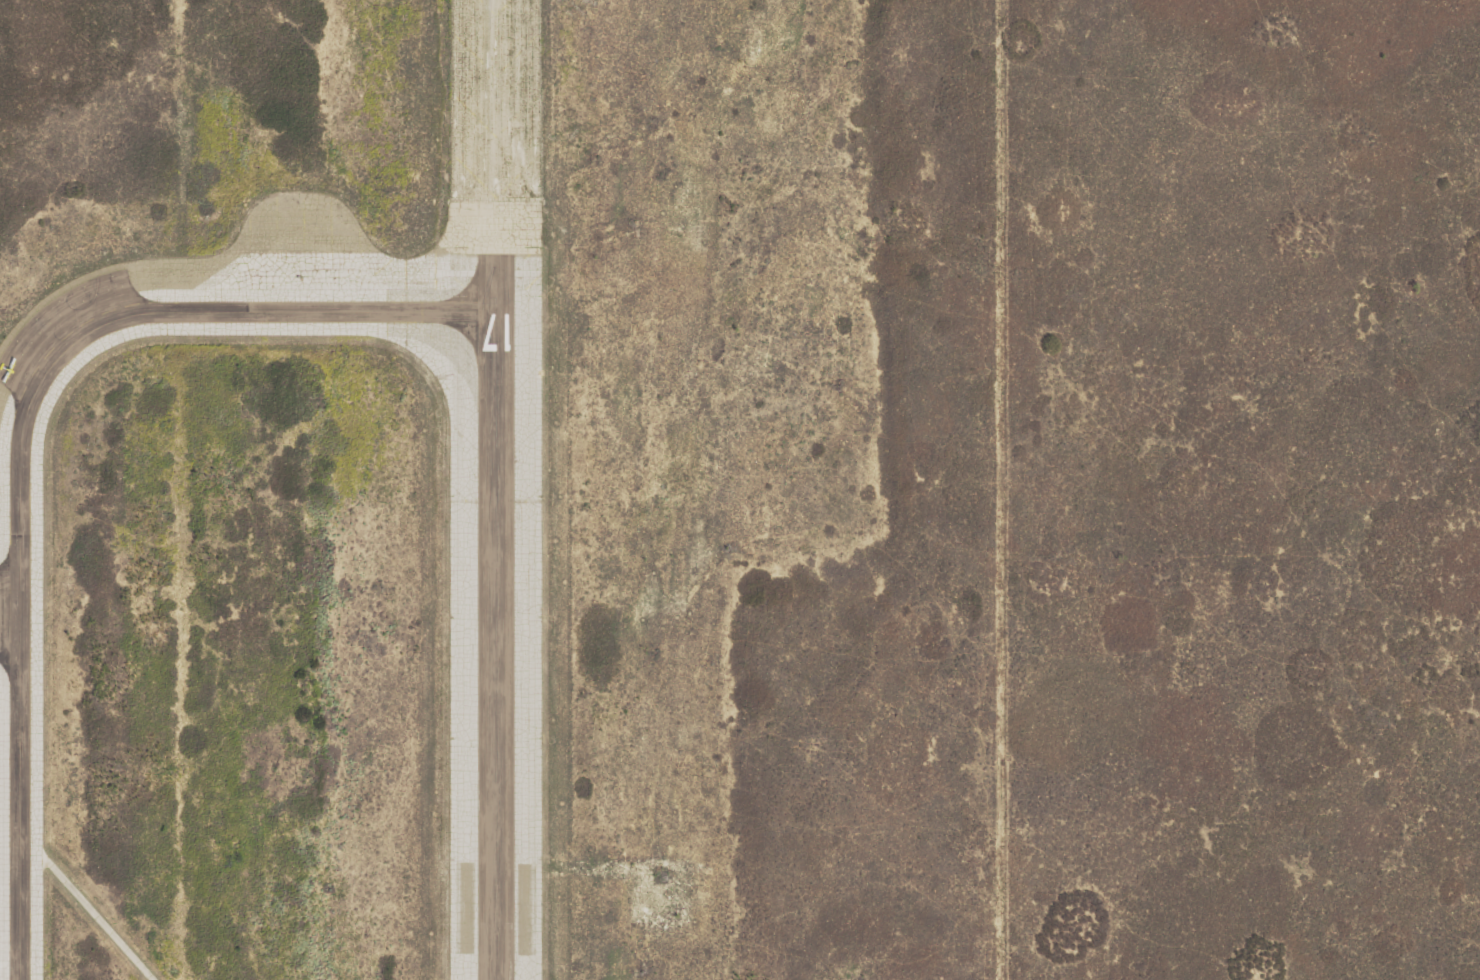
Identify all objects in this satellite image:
airport taxiway: (492, 127)
airport taxiway: (18, 437)
airport: (493, 490)
airport apron: (9, 613)
airport runway: (493, 617)
airport taxiway: (9, 733)
airport taxiway: (9, 780)
airport taxiway: (9, 829)
road: (87, 912)

